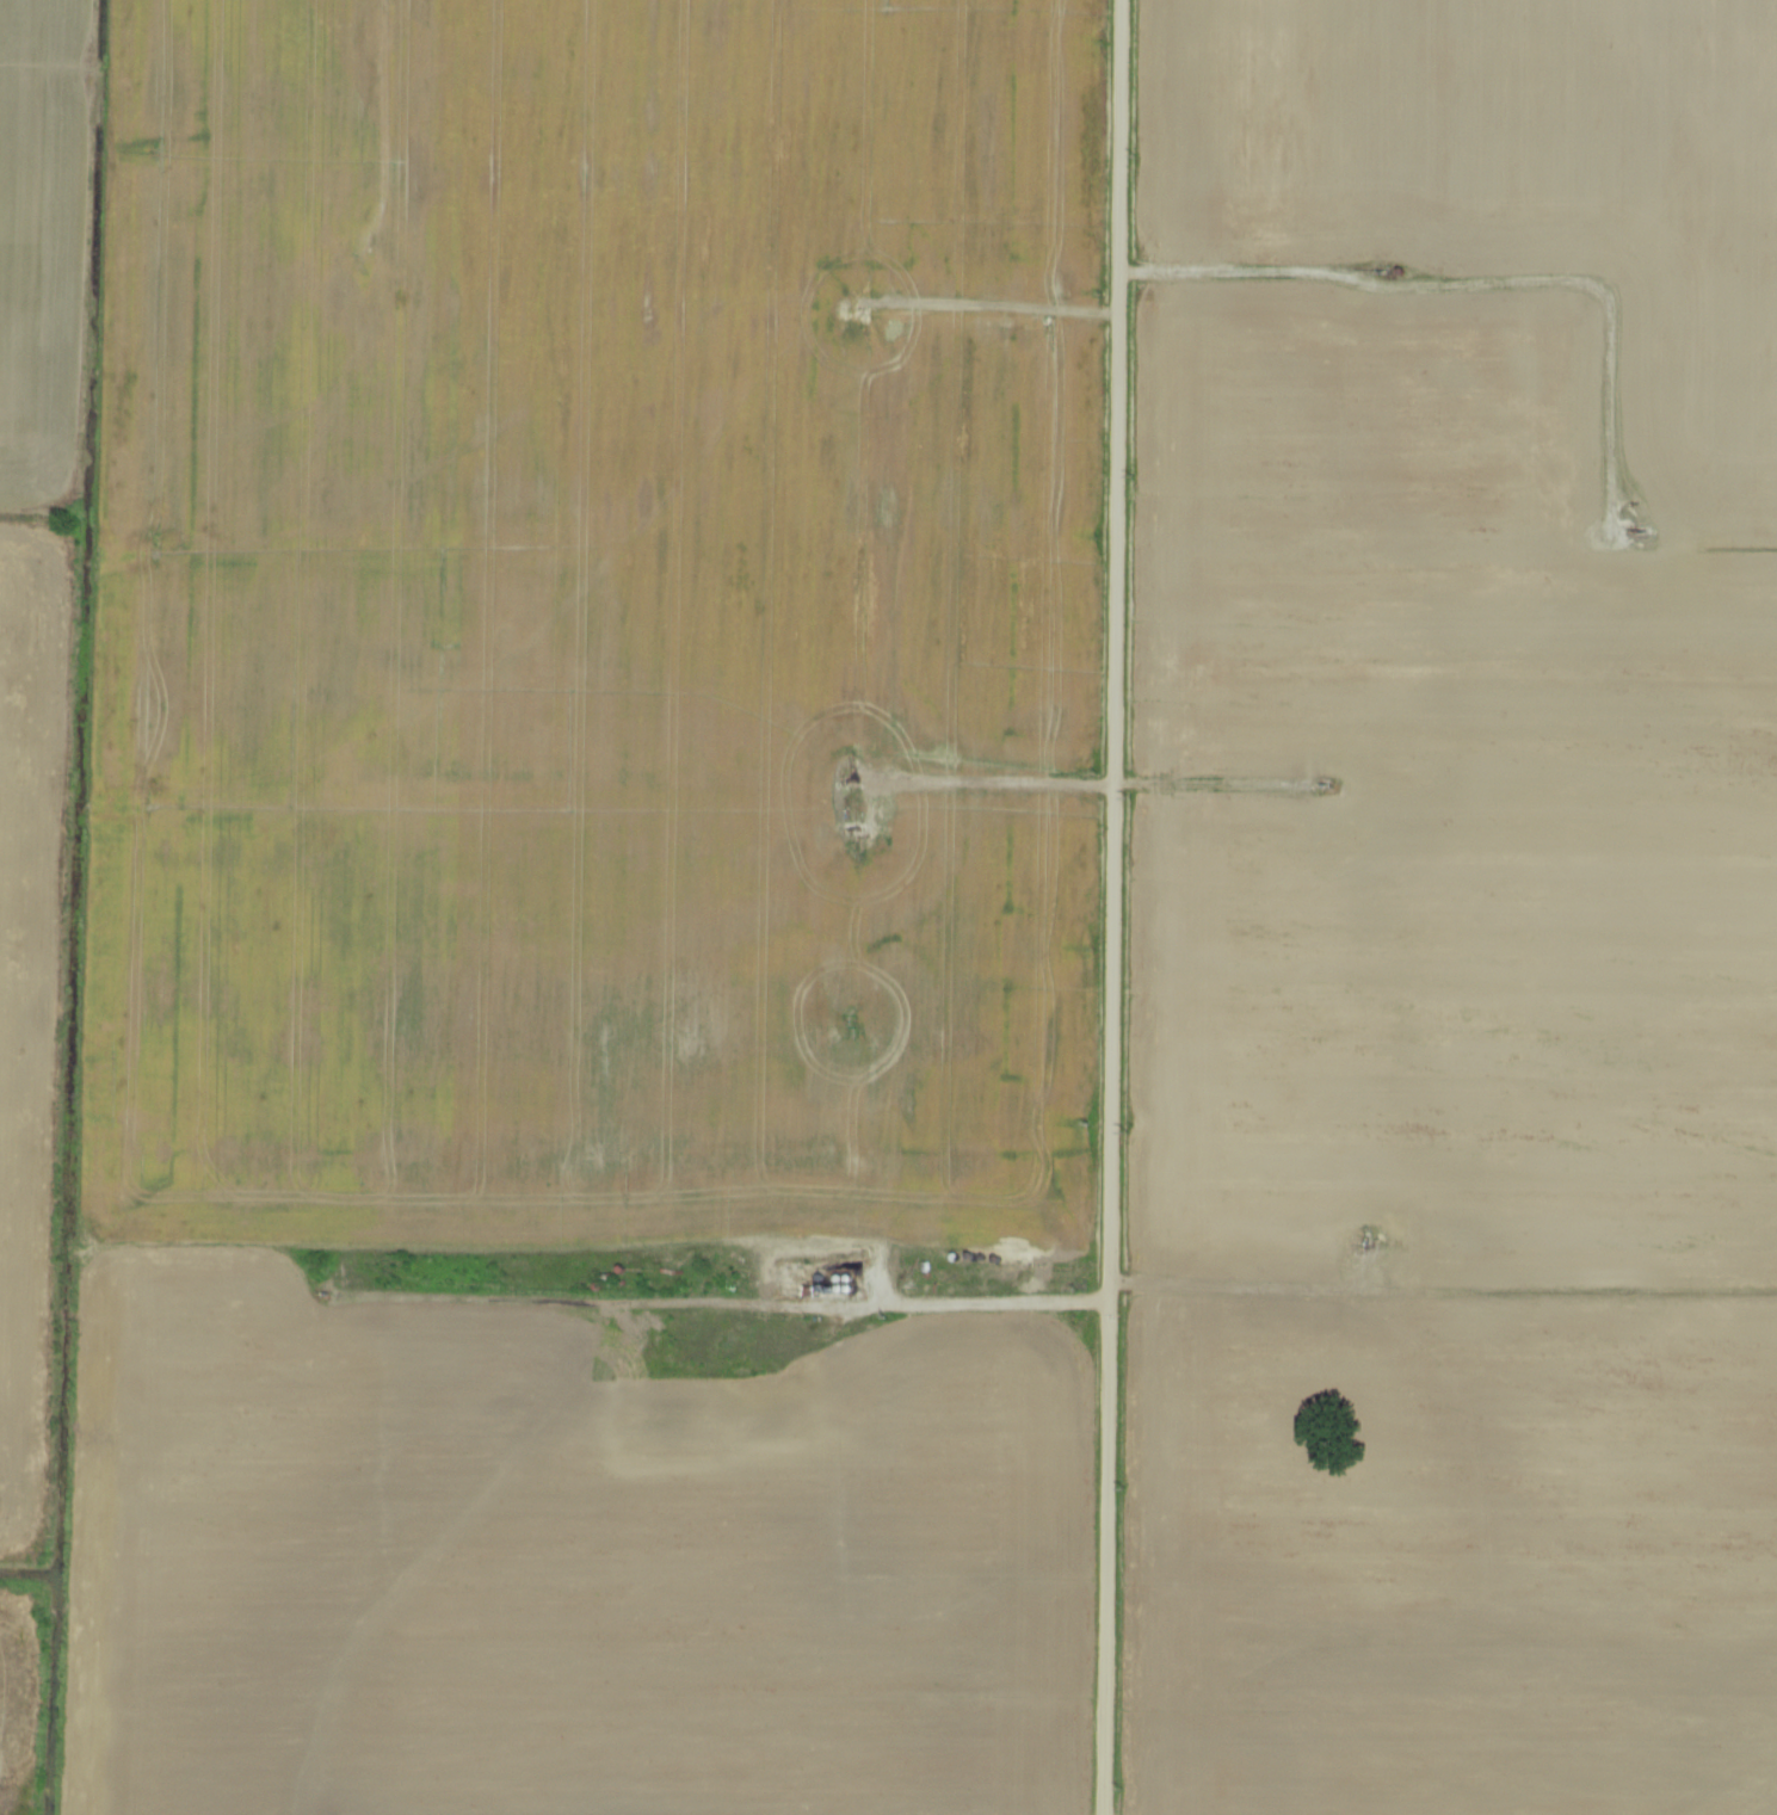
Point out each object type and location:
petroleum well: (1383, 270)
road: (1493, 283)
road: (999, 305)
petroleum well: (1634, 527)
road: (833, 773)
petroleum well: (854, 779)
petroleum well: (1322, 782)
road: (1110, 907)
road: (965, 1305)

